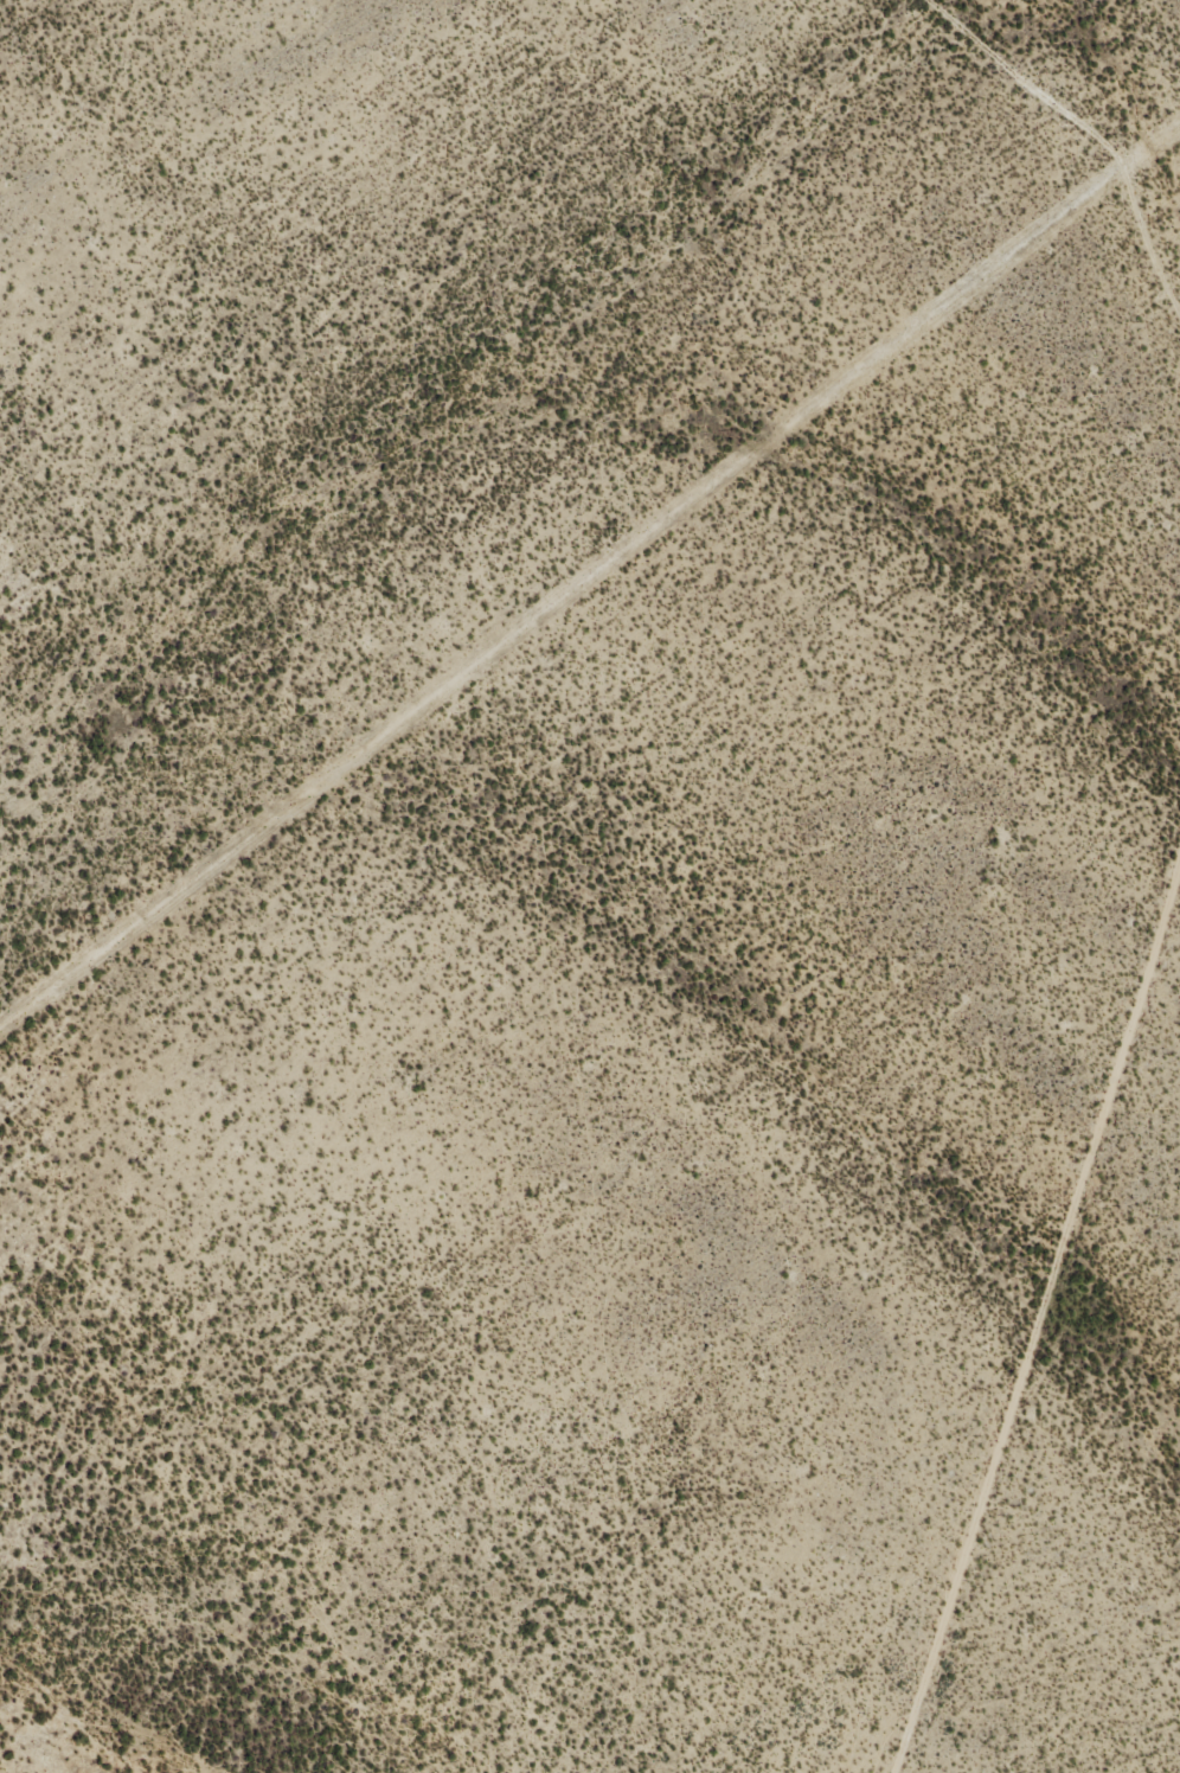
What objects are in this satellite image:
road: (1096, 122)
road: (1040, 1320)

